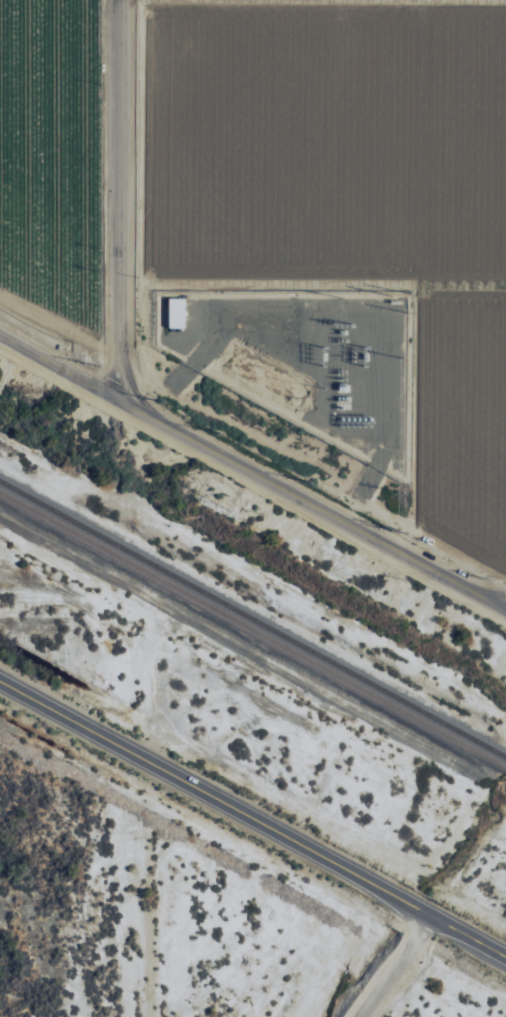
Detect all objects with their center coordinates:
crop: (54, 170)
road: (111, 195)
road: (100, 229)
building: (176, 312)
road: (252, 472)
road: (489, 595)
railway: (252, 621)
railway: (252, 632)
railway: (505, 770)
road: (252, 823)
road: (401, 970)

